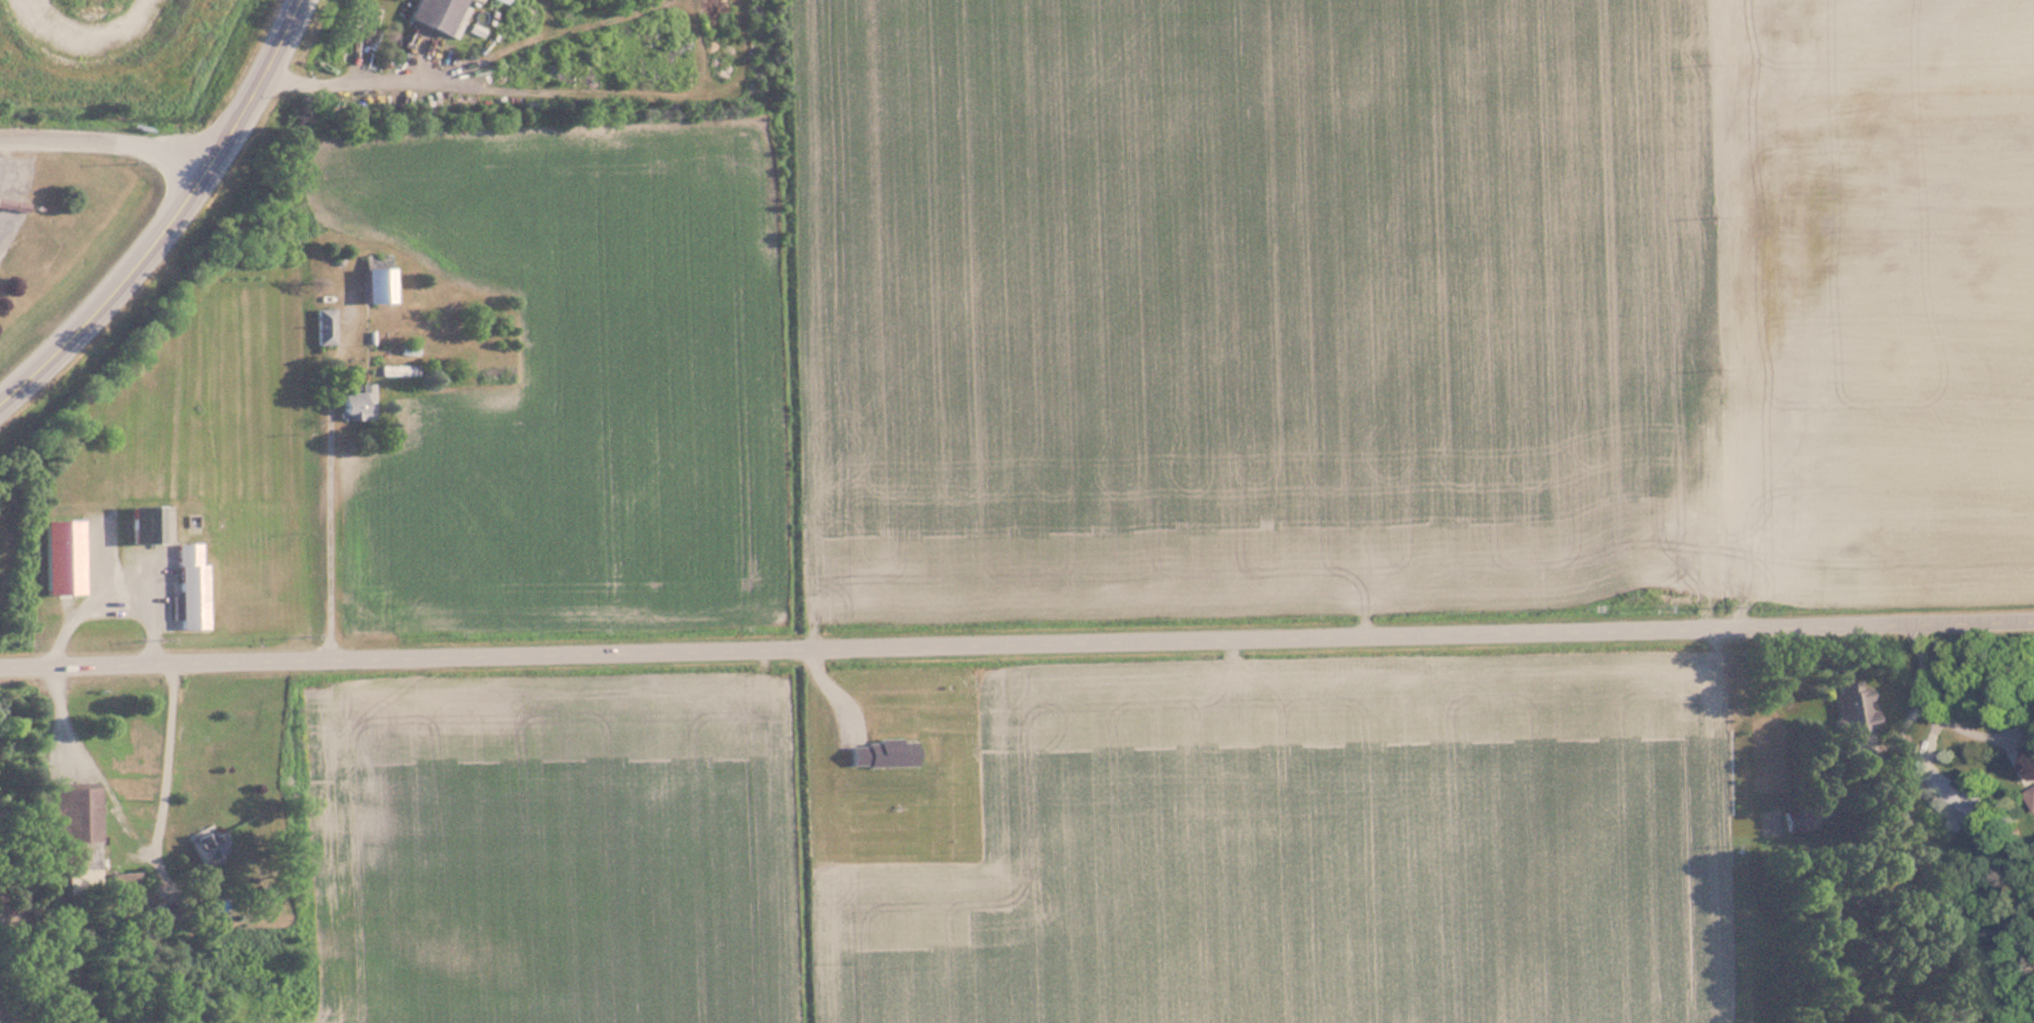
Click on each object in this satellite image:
building: (437, 15)
road: (271, 46)
railway: (20, 153)
road: (142, 262)
building: (374, 286)
building: (324, 327)
building: (356, 404)
road: (328, 481)
building: (145, 525)
building: (61, 558)
building: (190, 587)
road: (1016, 642)
road: (761, 665)
building: (1852, 707)
road: (1943, 717)
building: (2030, 798)
building: (1951, 800)
building: (1793, 821)
building: (77, 837)
building: (206, 847)
building: (125, 884)
building: (266, 897)

